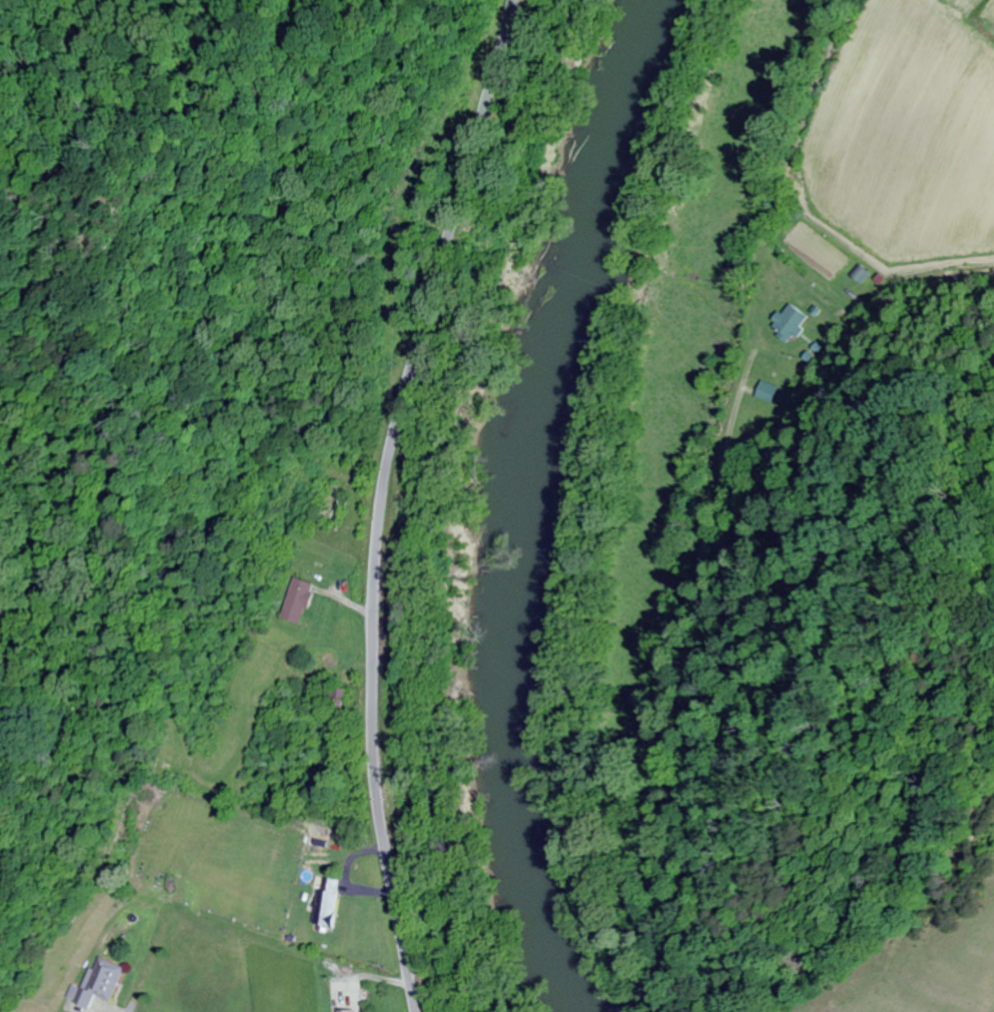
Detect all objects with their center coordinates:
building: (860, 276)
building: (788, 322)
building: (766, 391)
road: (387, 498)
building: (334, 501)
river: (527, 503)
building: (303, 600)
building: (332, 701)
building: (326, 903)
building: (98, 984)
building: (351, 1011)

